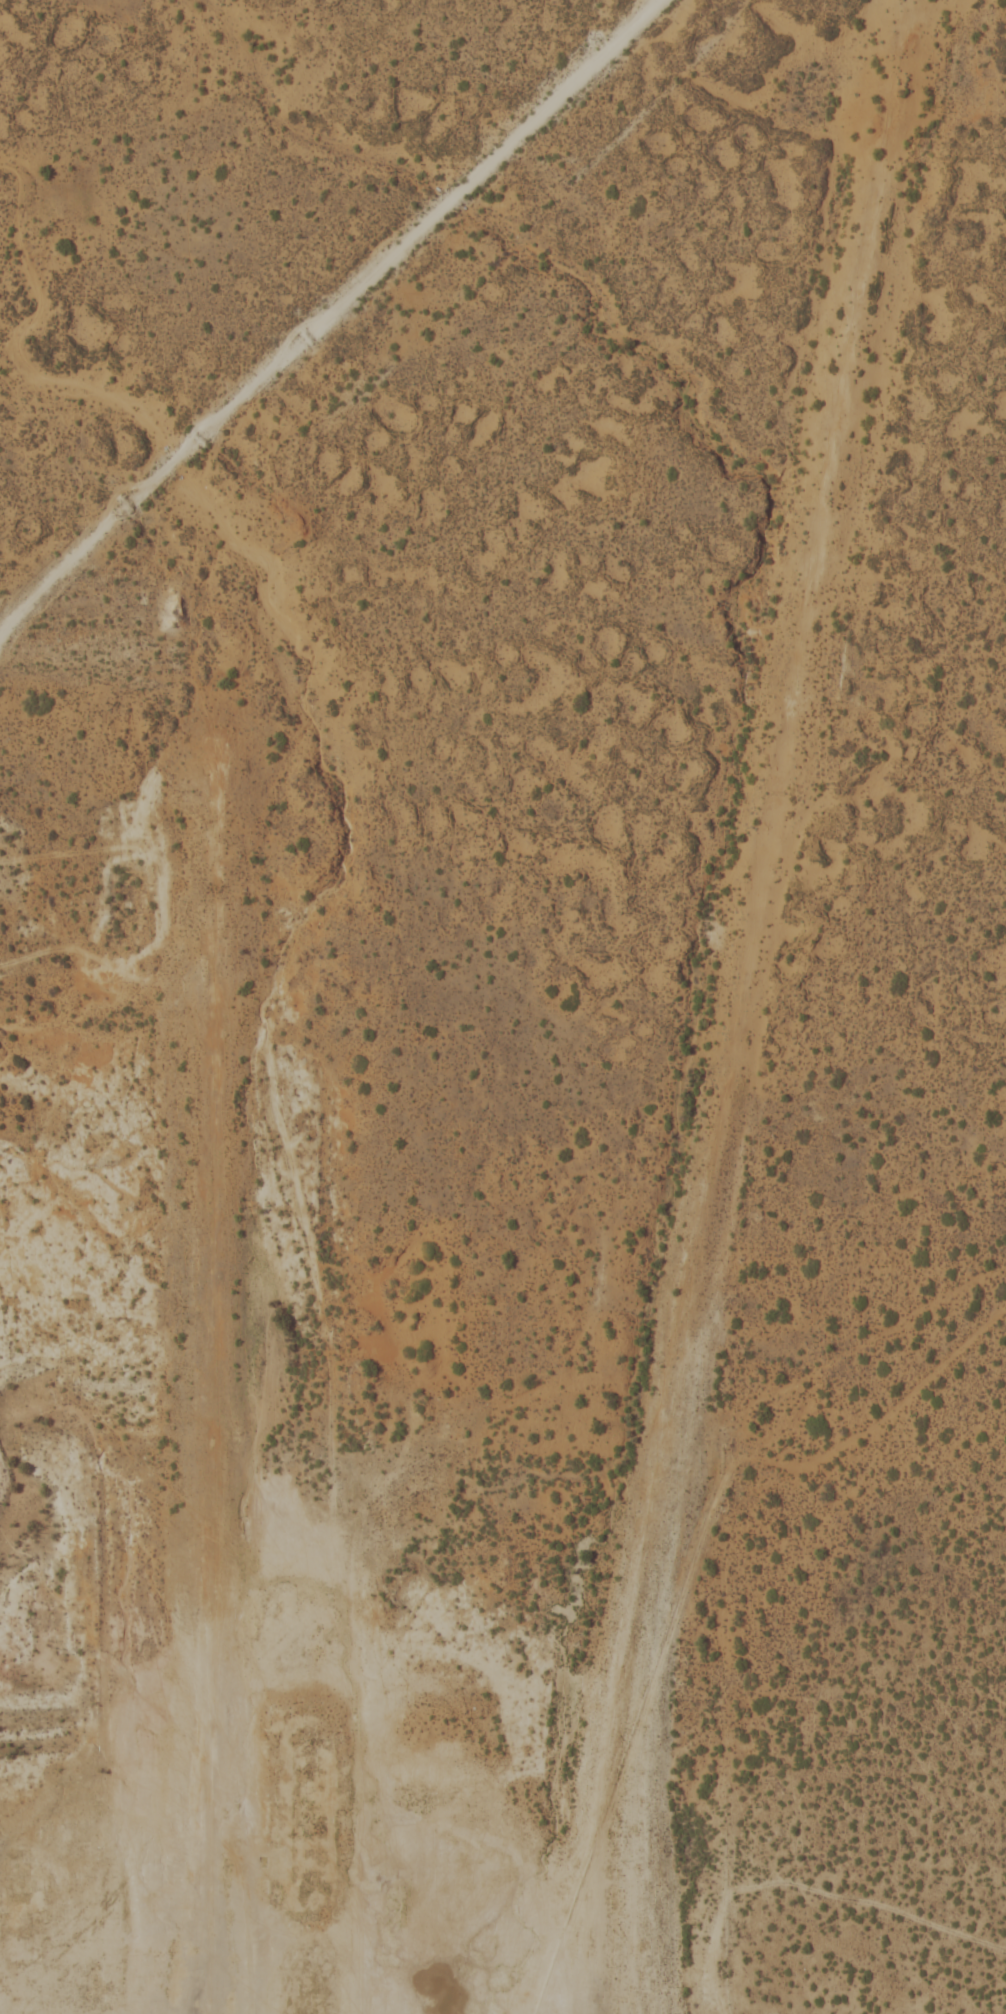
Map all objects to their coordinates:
railway: (895, 81)
road: (325, 318)
railway: (727, 1087)

